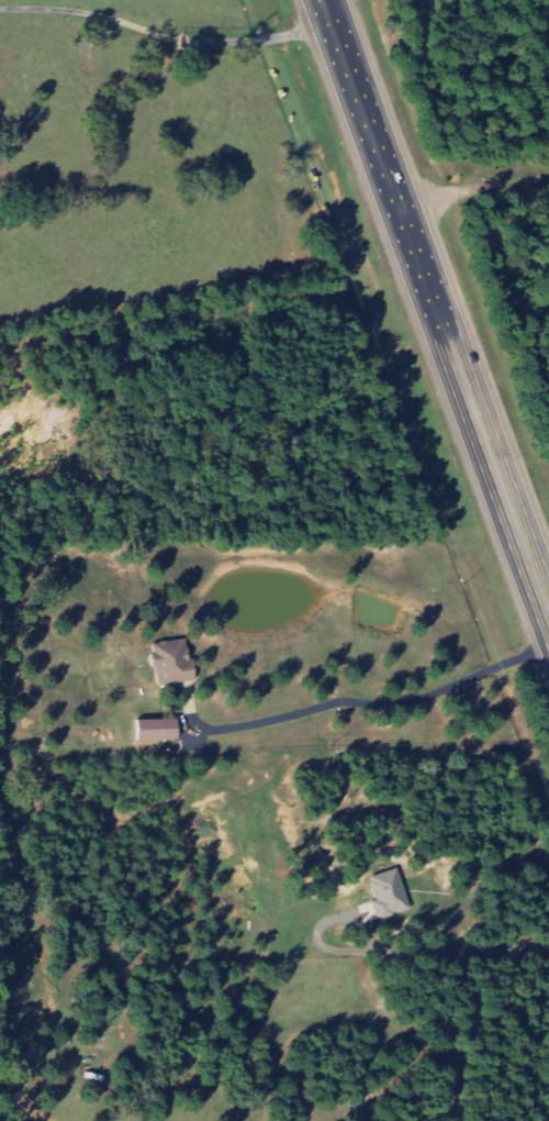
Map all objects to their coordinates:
road: (166, 36)
road: (436, 306)
building: (175, 663)
building: (160, 730)
building: (391, 894)

